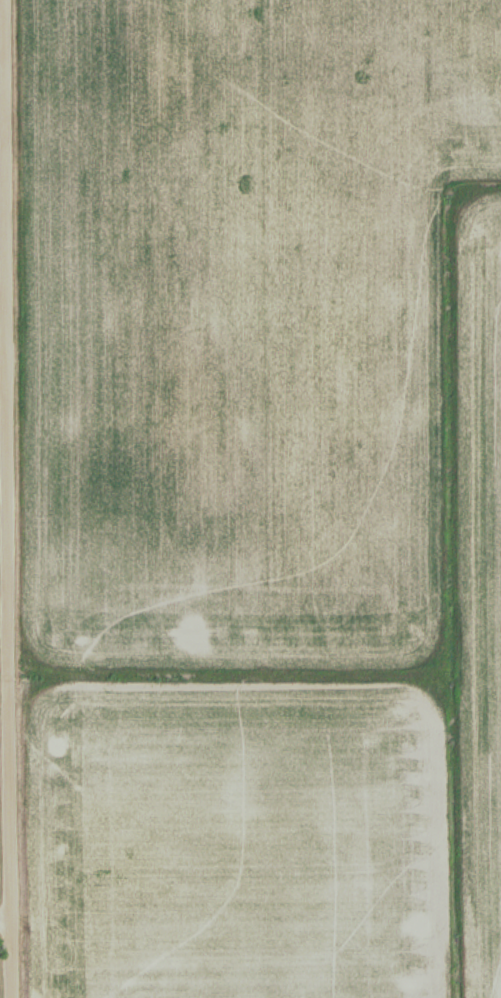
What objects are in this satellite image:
road: (6, 499)

